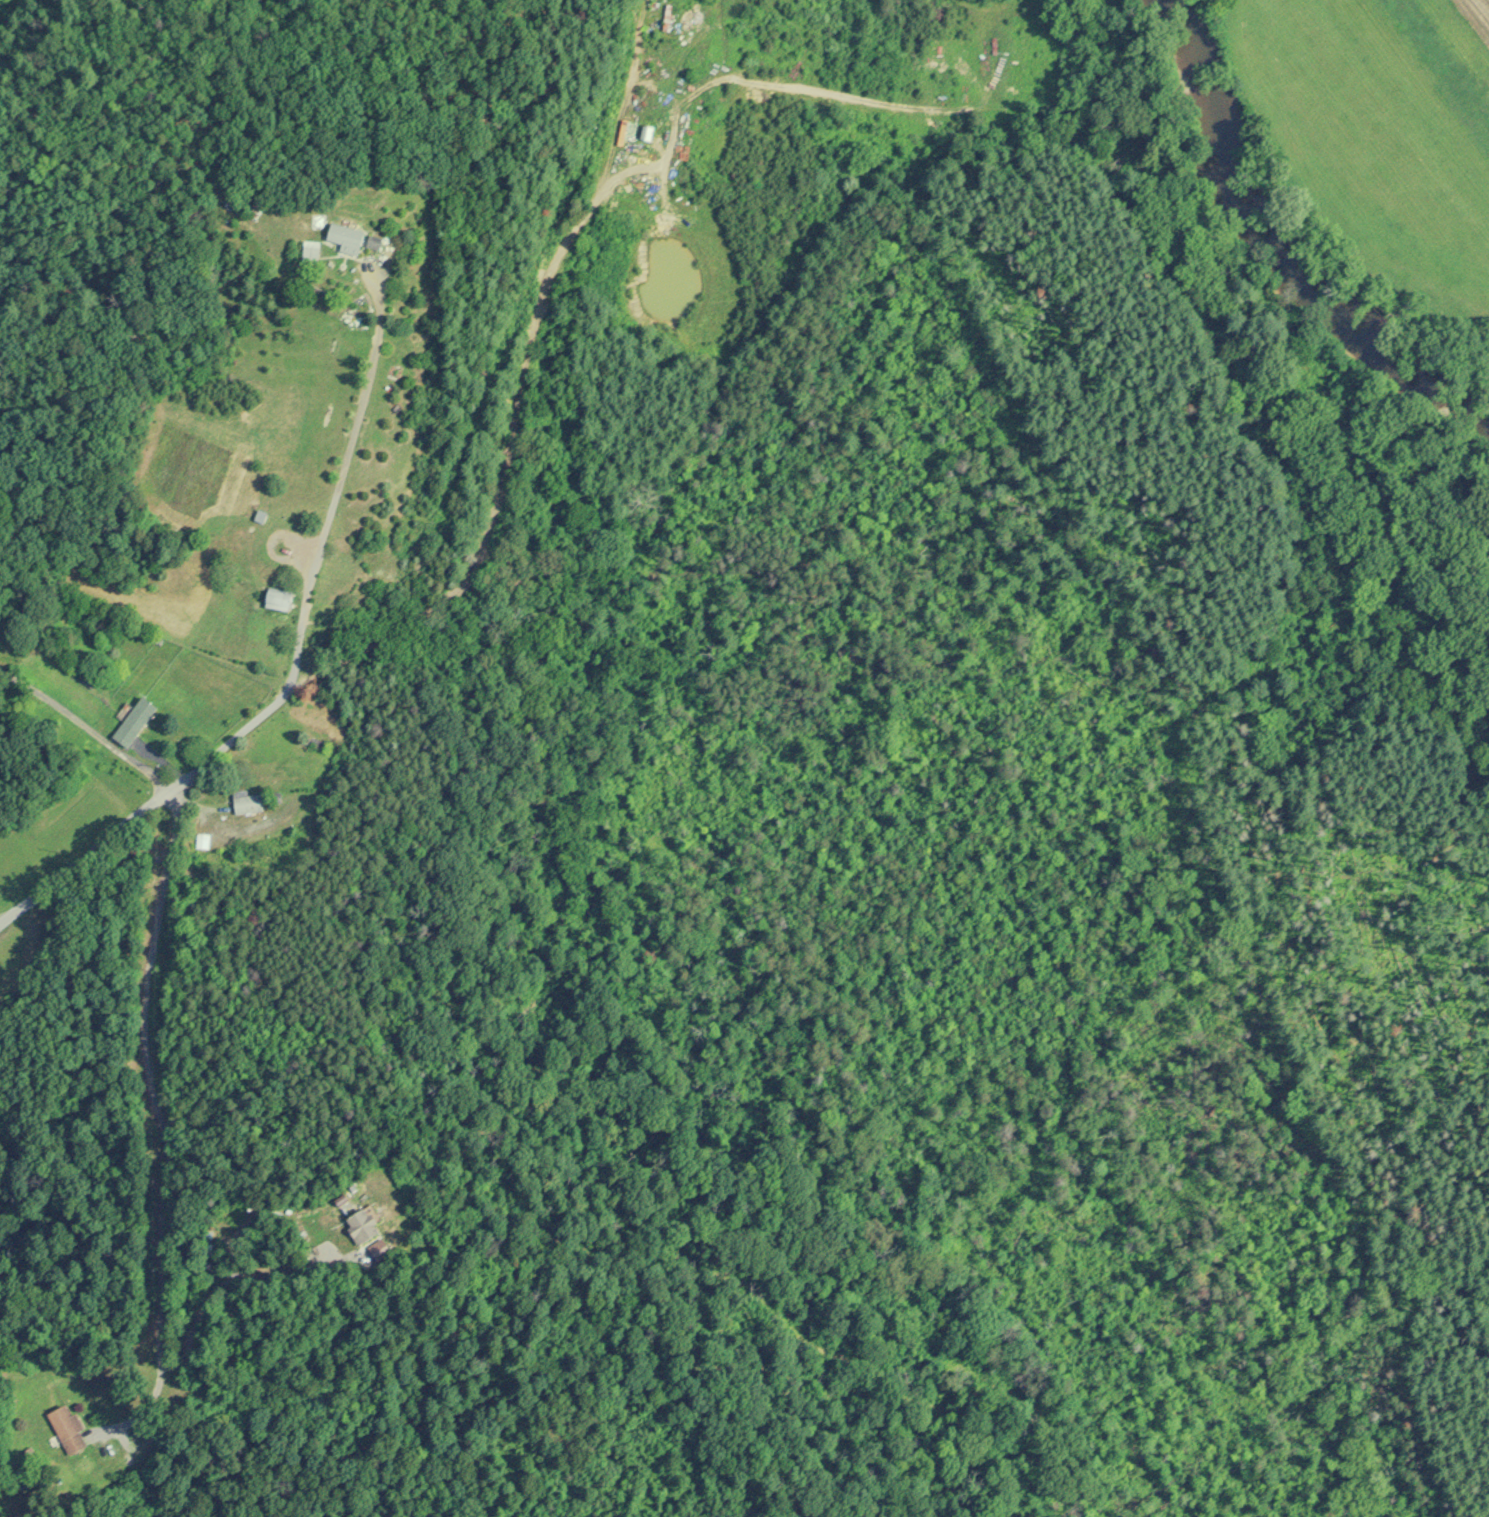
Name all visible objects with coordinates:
building: (646, 134)
building: (345, 238)
building: (374, 243)
river: (1274, 250)
building: (310, 252)
road: (515, 395)
road: (338, 480)
building: (277, 599)
building: (133, 722)
road: (87, 728)
building: (246, 802)
road: (146, 808)
road: (158, 1122)
building: (361, 1226)
road: (238, 1276)
road: (337, 1419)
building: (67, 1429)

